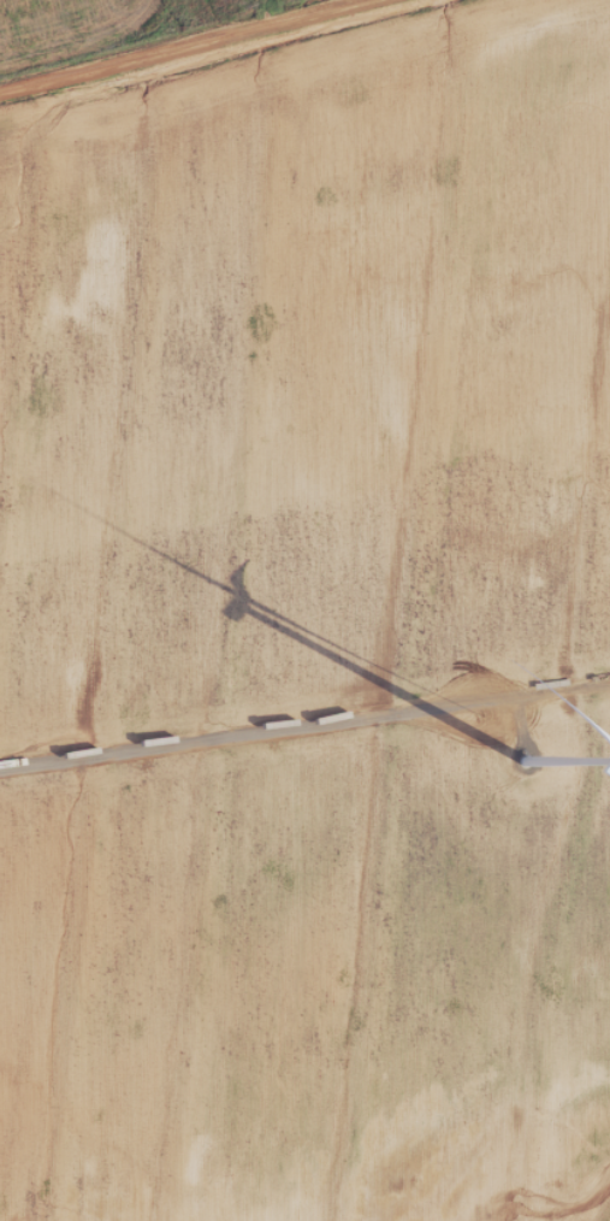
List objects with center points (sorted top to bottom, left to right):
road: (172, 42)
wind turbine: (525, 763)

